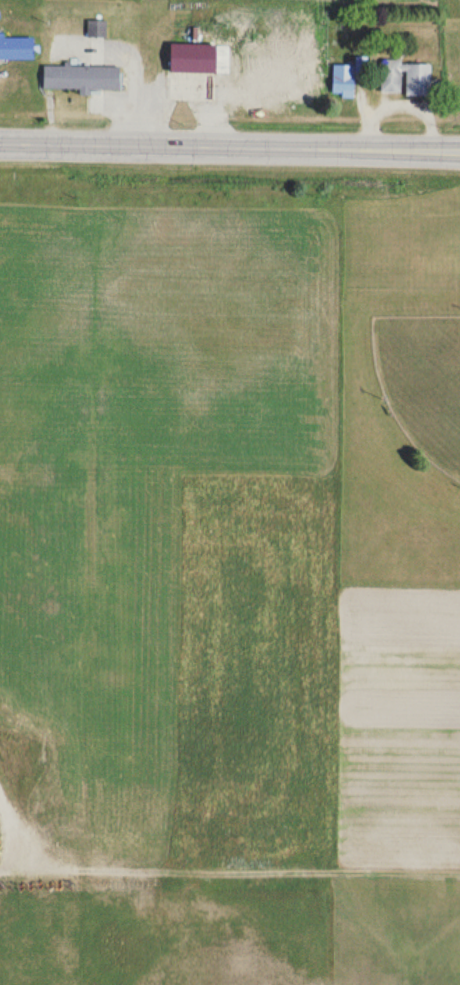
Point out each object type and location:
building: (191, 48)
building: (17, 49)
building: (82, 78)
building: (406, 79)
building: (343, 80)
road: (230, 143)
park: (422, 379)

